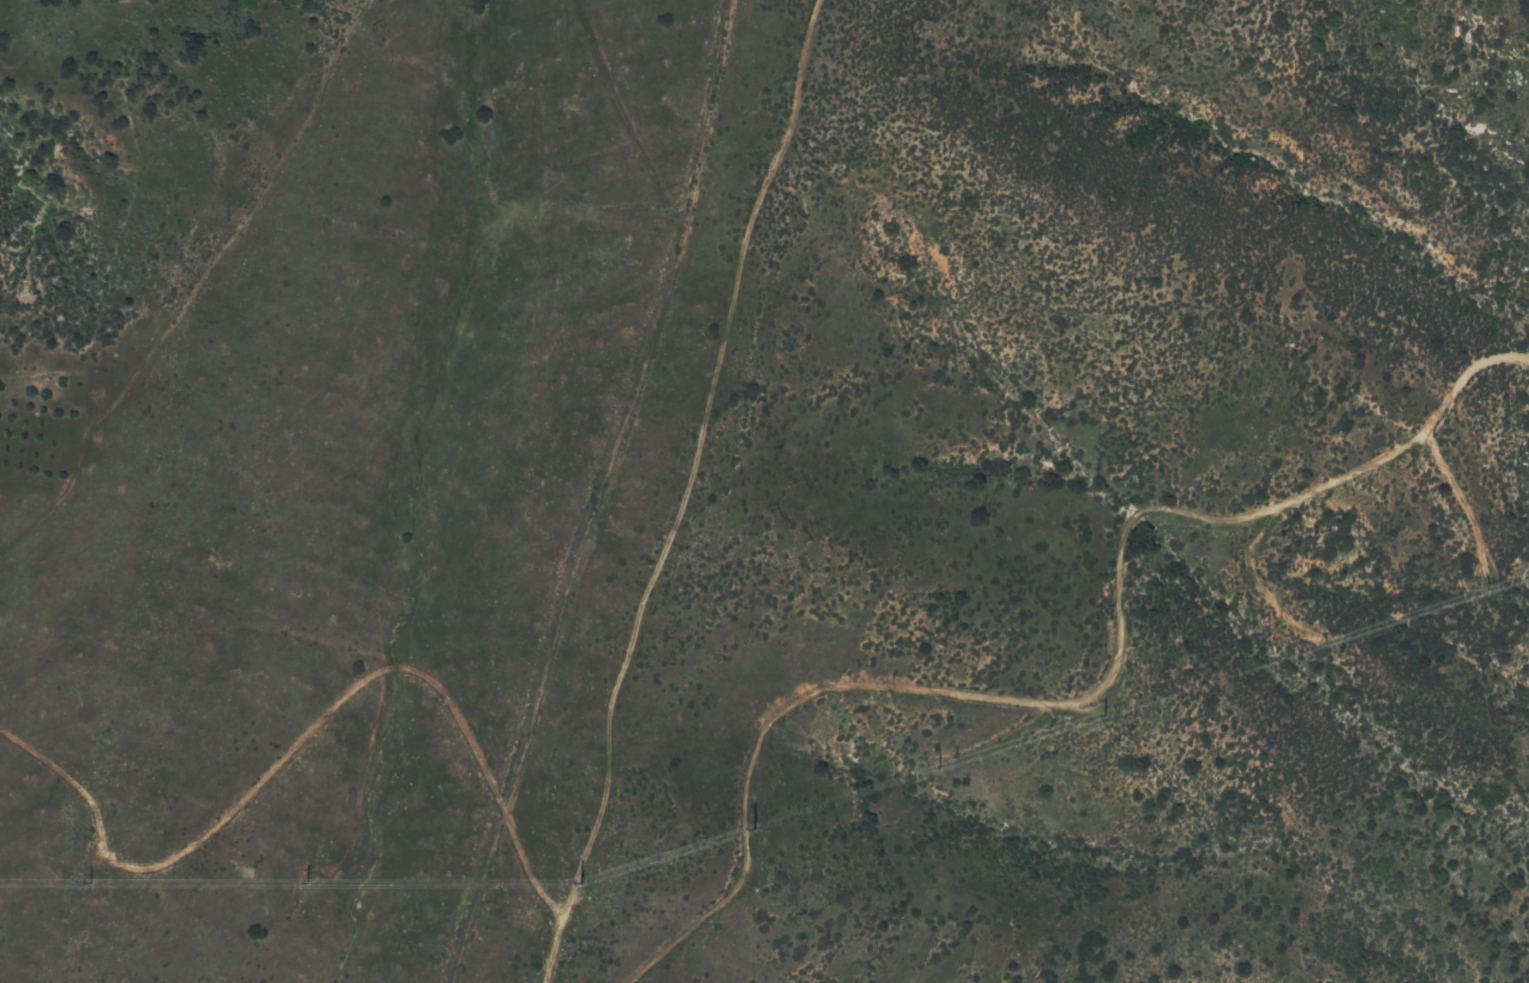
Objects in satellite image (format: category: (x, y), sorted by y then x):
road: (692, 464)
road: (597, 493)
road: (1091, 697)
road: (328, 714)

